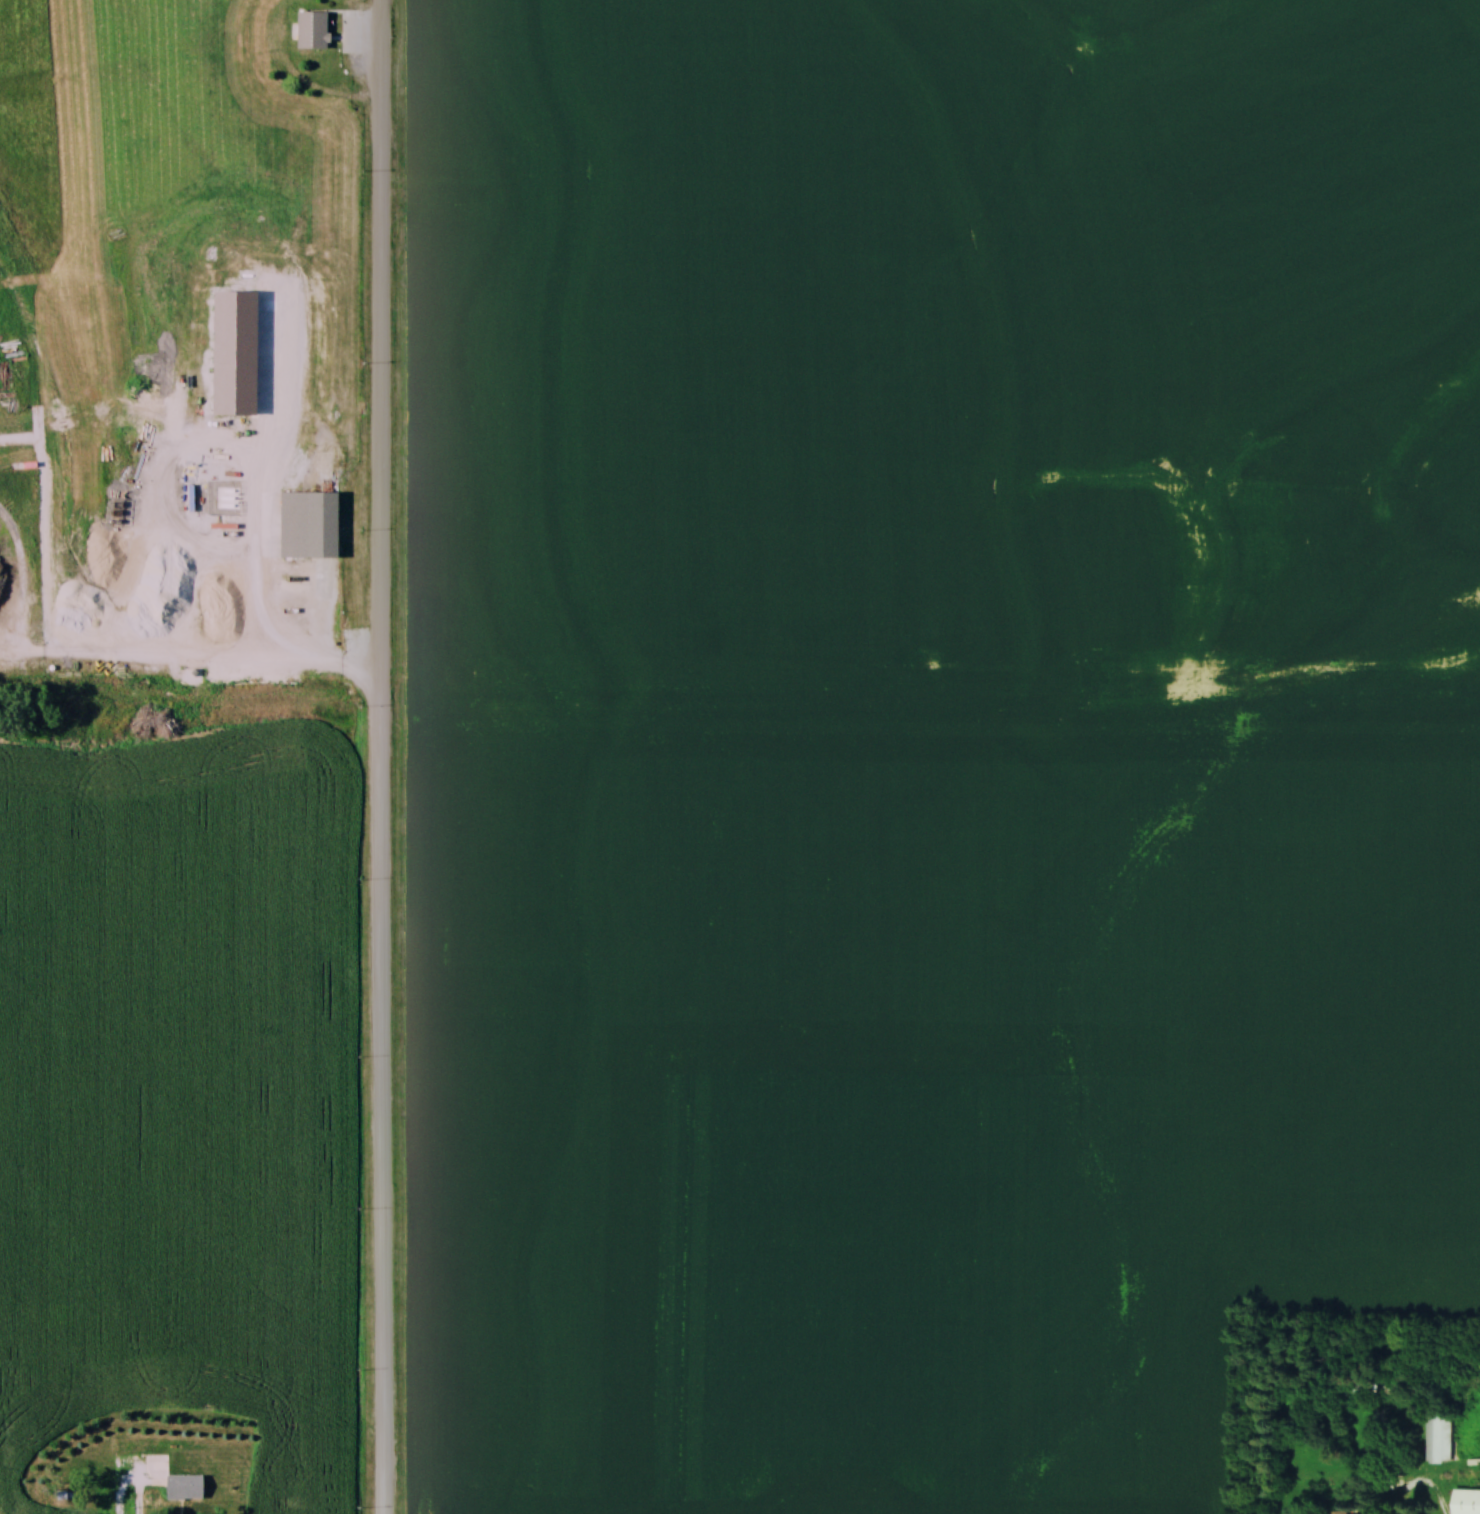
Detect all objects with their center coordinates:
building: (312, 32)
building: (297, 528)
road: (265, 659)
road: (387, 756)
building: (1441, 1437)
road: (1424, 1483)
building: (183, 1488)
road: (140, 1501)
building: (1468, 1502)

